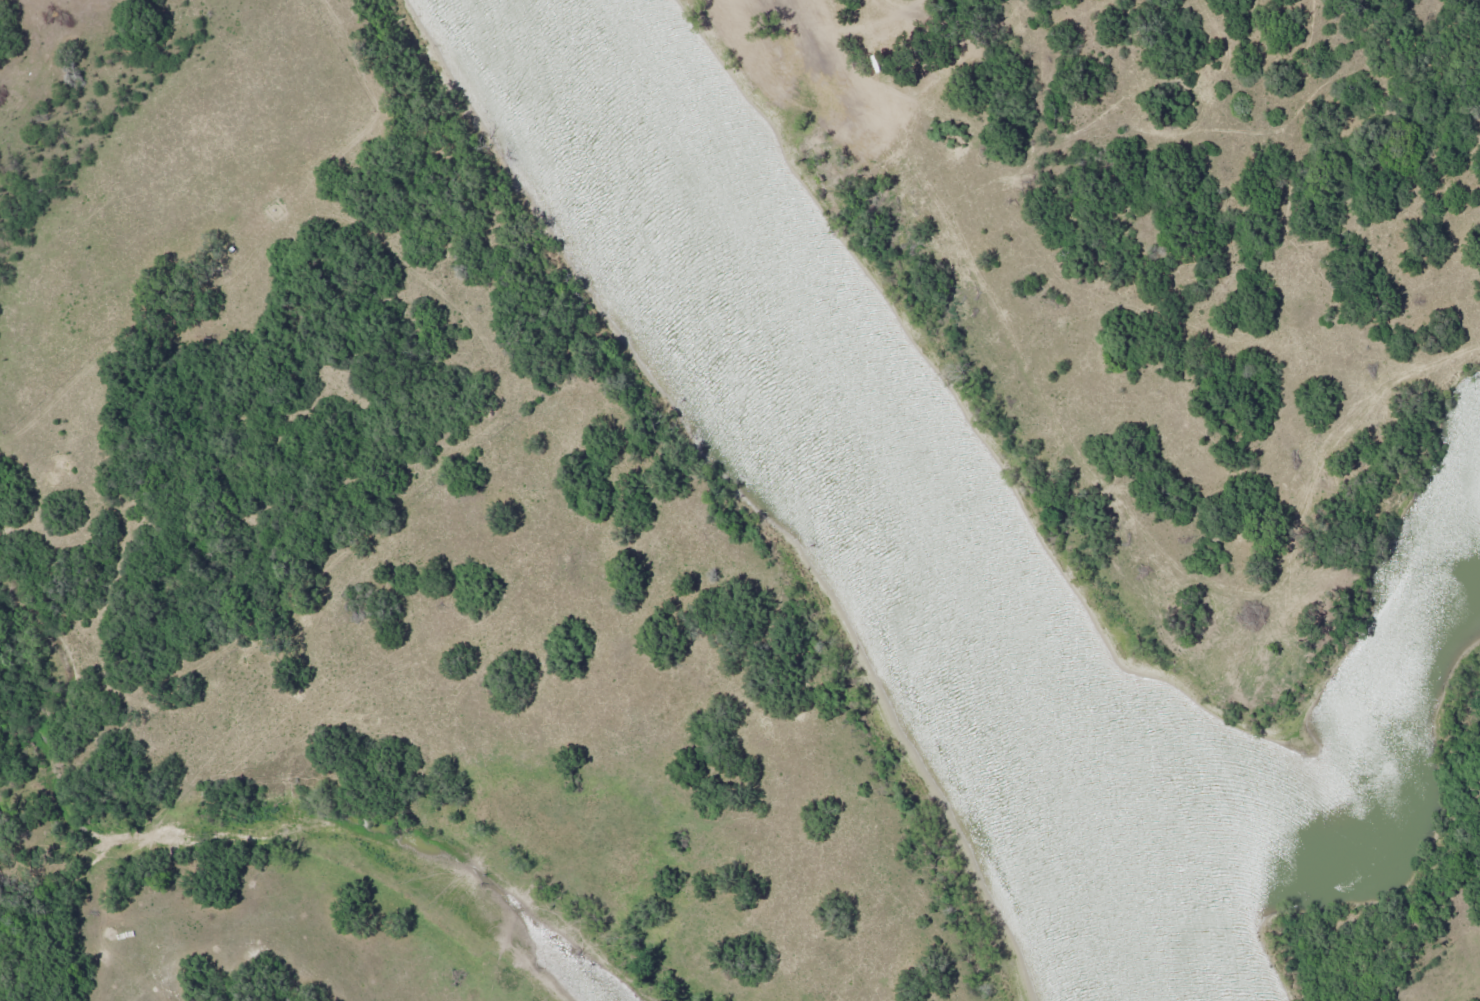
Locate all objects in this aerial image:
road: (887, 70)
river: (887, 473)

